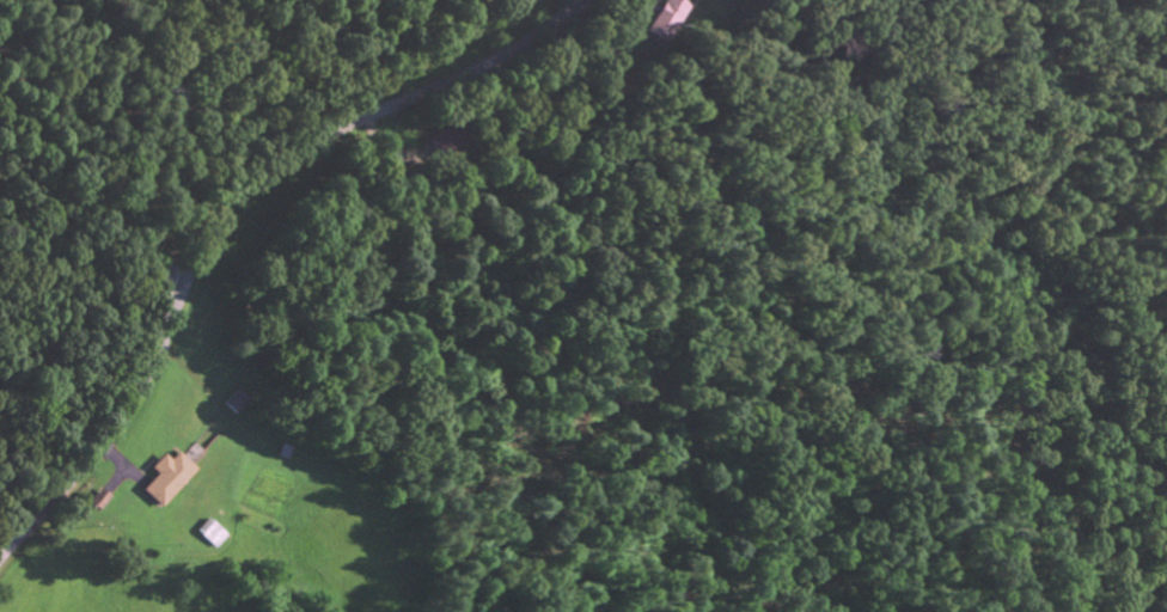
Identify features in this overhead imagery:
building: (668, 18)
road: (226, 209)
building: (238, 402)
building: (169, 477)
building: (100, 498)

